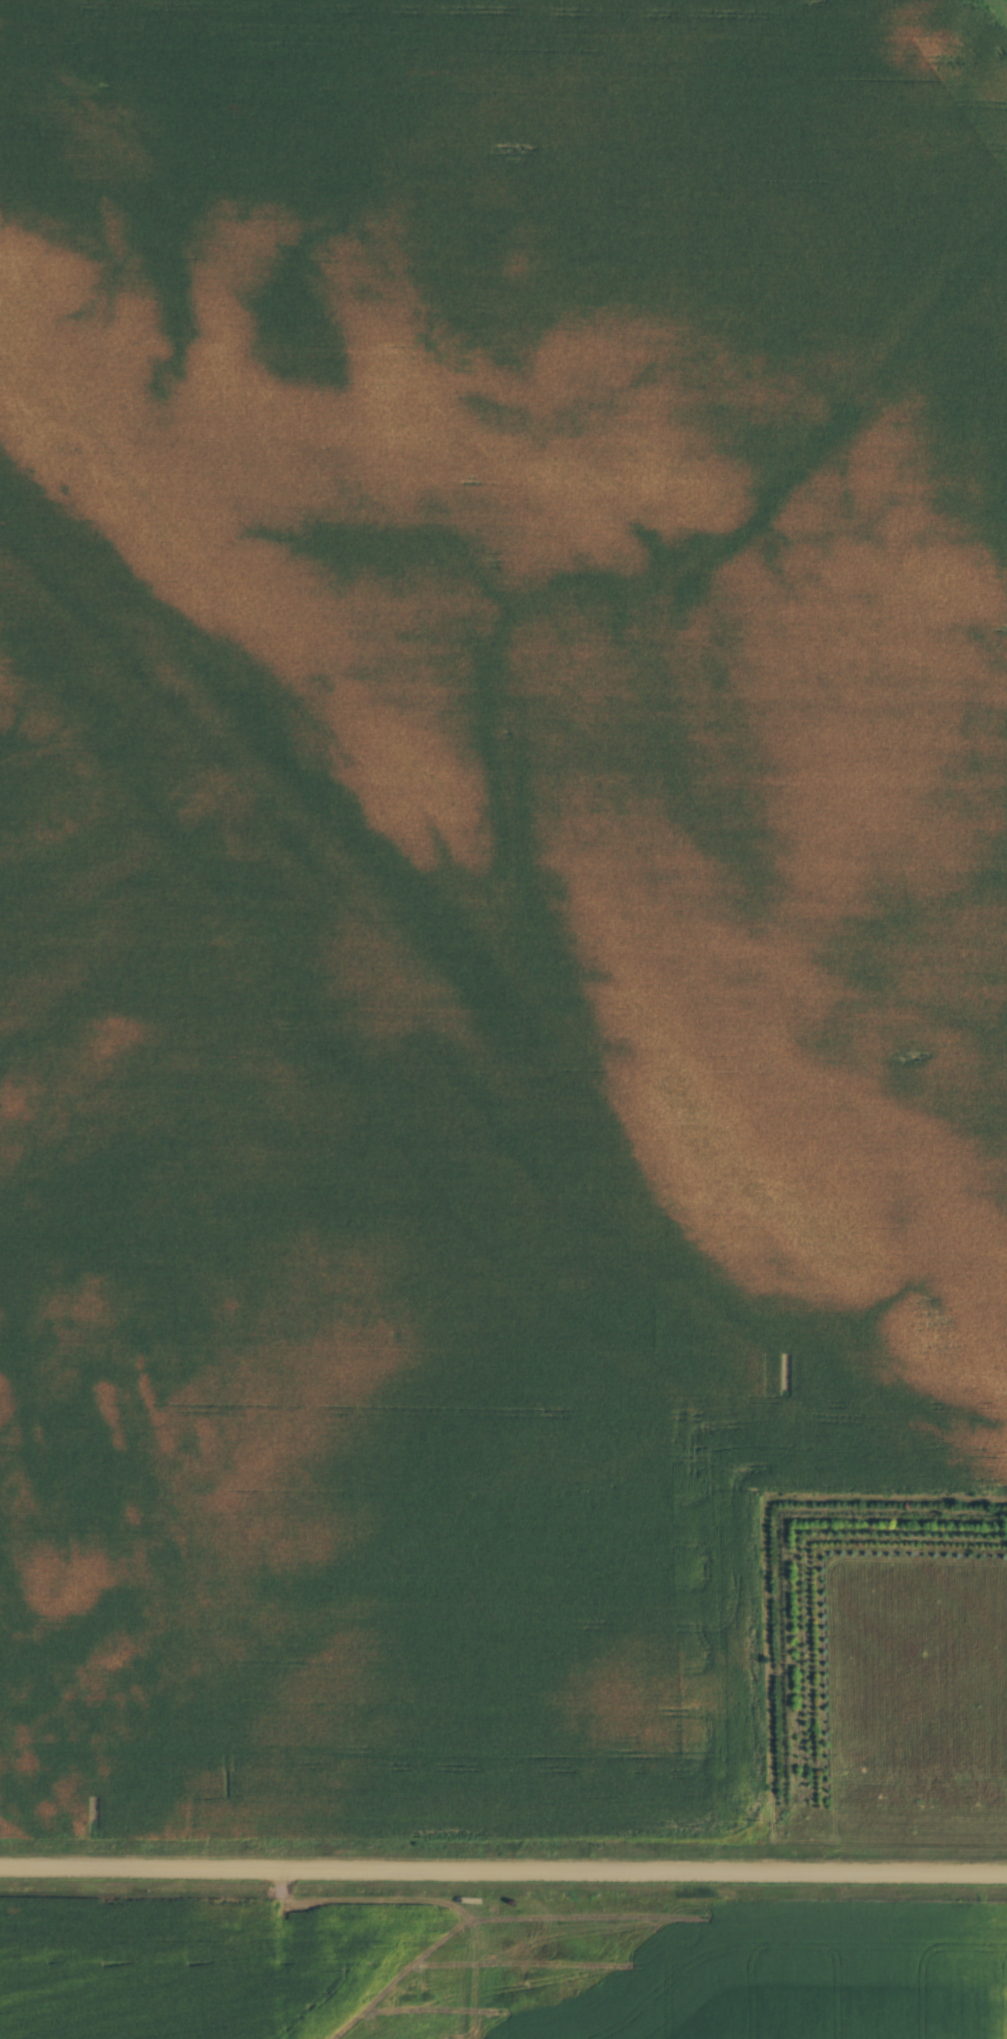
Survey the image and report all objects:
road: (503, 1870)

